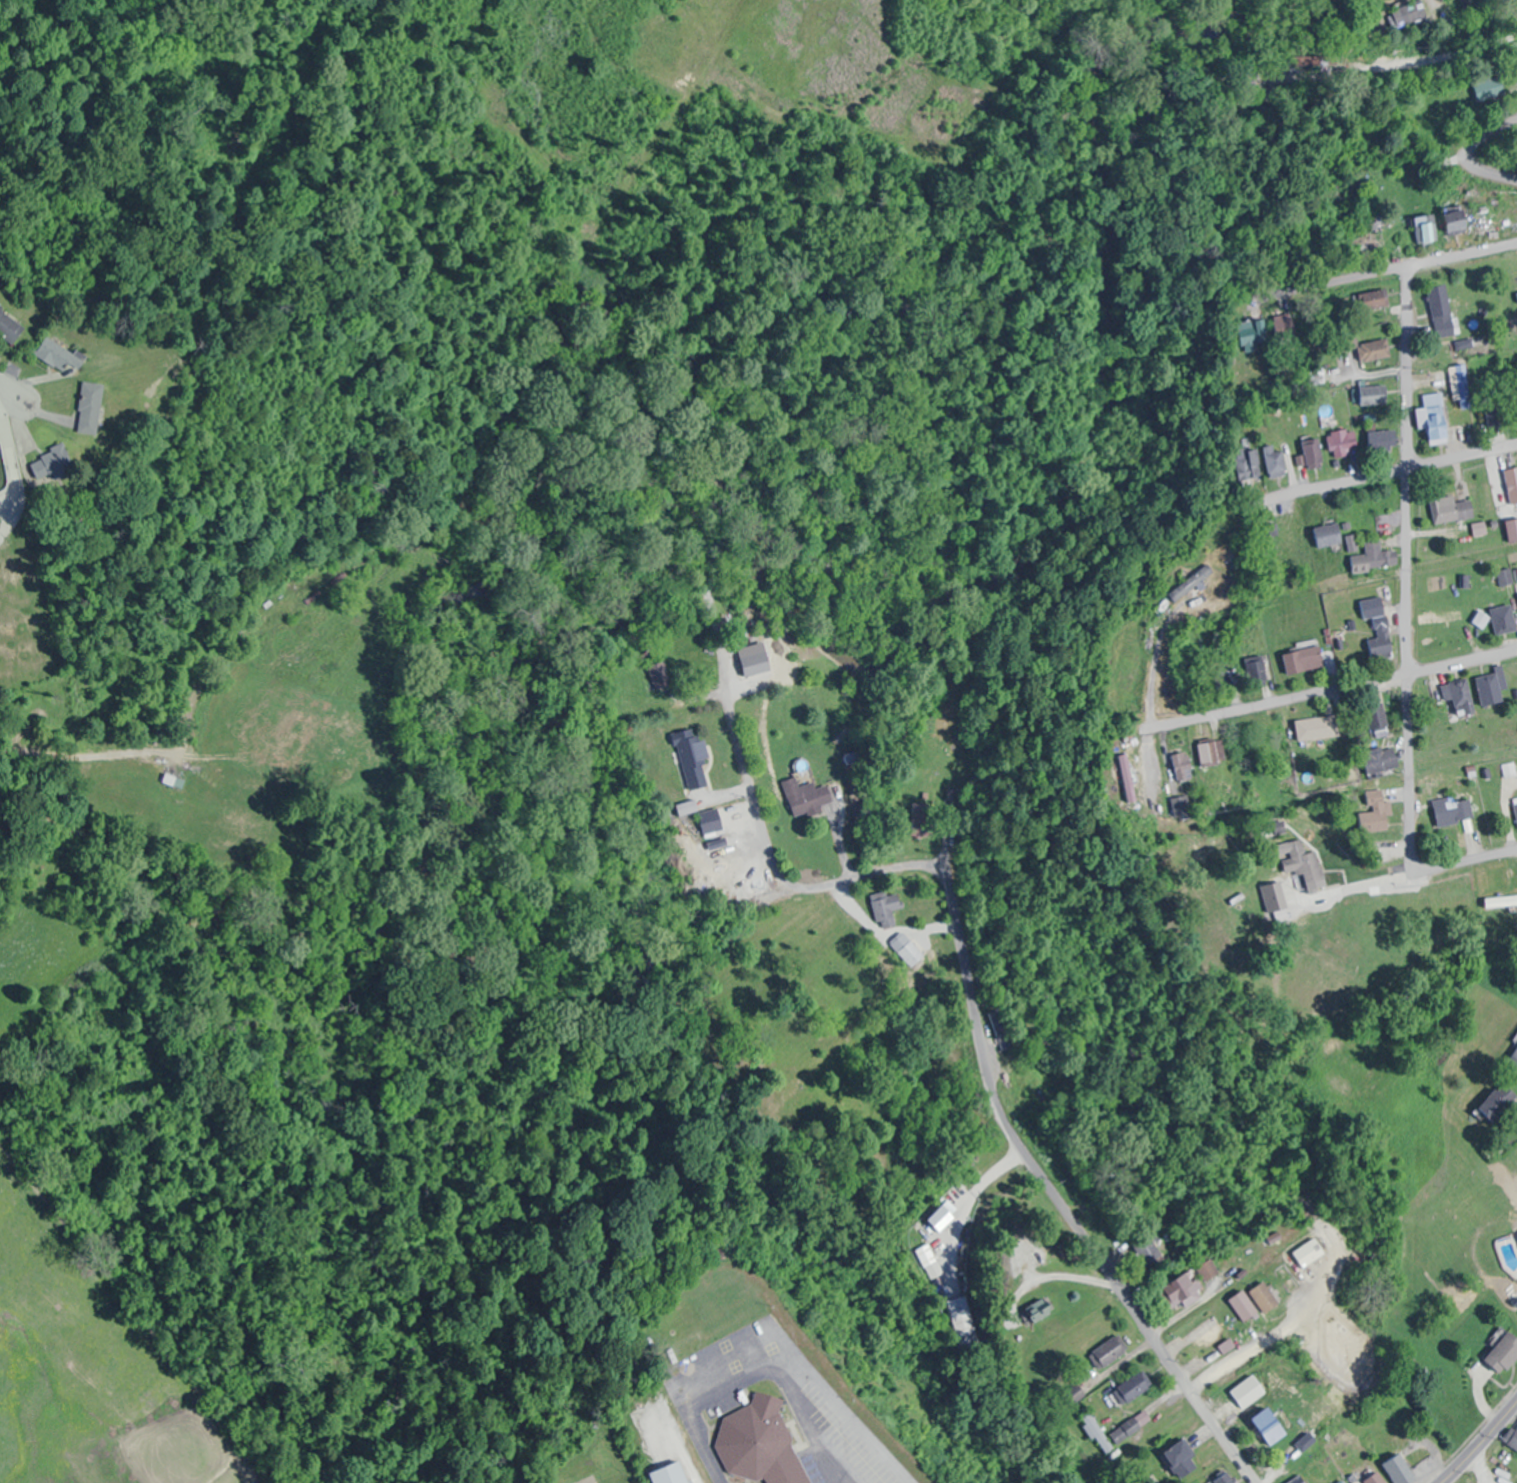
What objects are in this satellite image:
building: (1409, 13)
road: (1412, 49)
building: (1490, 89)
road: (1471, 153)
building: (1458, 221)
building: (1426, 229)
road: (1388, 267)
building: (1516, 267)
building: (1442, 306)
building: (1283, 324)
building: (8, 326)
building: (1251, 334)
building: (1375, 350)
building: (59, 355)
building: (1465, 386)
road: (7, 388)
building: (1374, 395)
building: (1434, 399)
building: (92, 407)
building: (1435, 424)
building: (1386, 439)
building: (1345, 442)
building: (1315, 453)
building: (1276, 463)
building: (55, 464)
building: (1247, 465)
road: (1395, 473)
building: (1512, 484)
building: (1453, 510)
building: (1512, 530)
building: (1329, 535)
building: (1377, 557)
road: (1409, 565)
building: (1190, 582)
building: (1159, 607)
building: (1481, 619)
building: (1505, 620)
building: (1380, 628)
building: (1305, 660)
building: (755, 664)
building: (659, 675)
building: (1494, 688)
road: (1328, 691)
building: (1461, 699)
building: (1375, 721)
building: (1321, 729)
building: (1212, 753)
building: (855, 758)
building: (1383, 761)
building: (694, 762)
building: (1182, 767)
building: (808, 797)
building: (1181, 807)
building: (1516, 812)
building: (1377, 814)
building: (1455, 814)
building: (711, 821)
road: (1468, 859)
road: (772, 862)
building: (1304, 864)
building: (886, 908)
building: (911, 949)
building: (999, 1030)
building: (1499, 1101)
road: (1051, 1191)
building: (1144, 1250)
building: (1307, 1251)
building: (1181, 1289)
building: (1264, 1296)
building: (1243, 1305)
building: (958, 1317)
building: (1106, 1352)
building: (1505, 1352)
road: (1241, 1356)
road: (679, 1384)
building: (1131, 1387)
building: (1260, 1419)
road: (854, 1421)
building: (1130, 1426)
road: (811, 1430)
building: (1095, 1432)
building: (1512, 1437)
building: (1307, 1441)
building: (763, 1443)
road: (1480, 1443)
road: (706, 1446)
building: (1179, 1456)
building: (1401, 1470)
building: (1299, 1480)
building: (1373, 1480)

